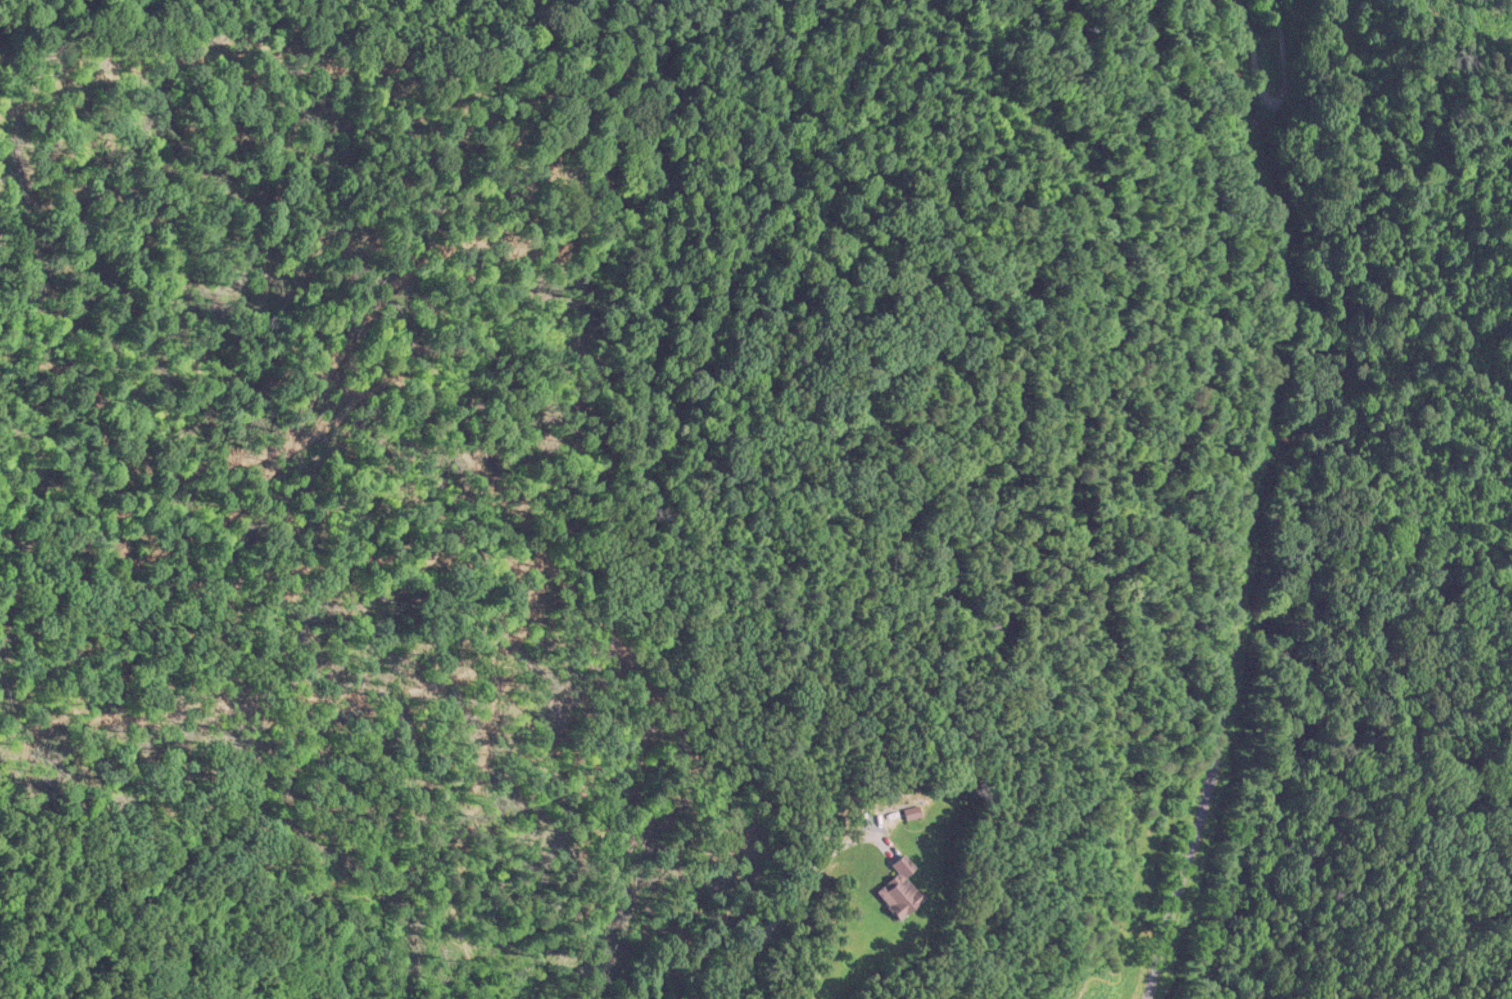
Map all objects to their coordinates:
road: (1272, 109)
road: (1244, 497)
building: (904, 889)
road: (792, 902)

